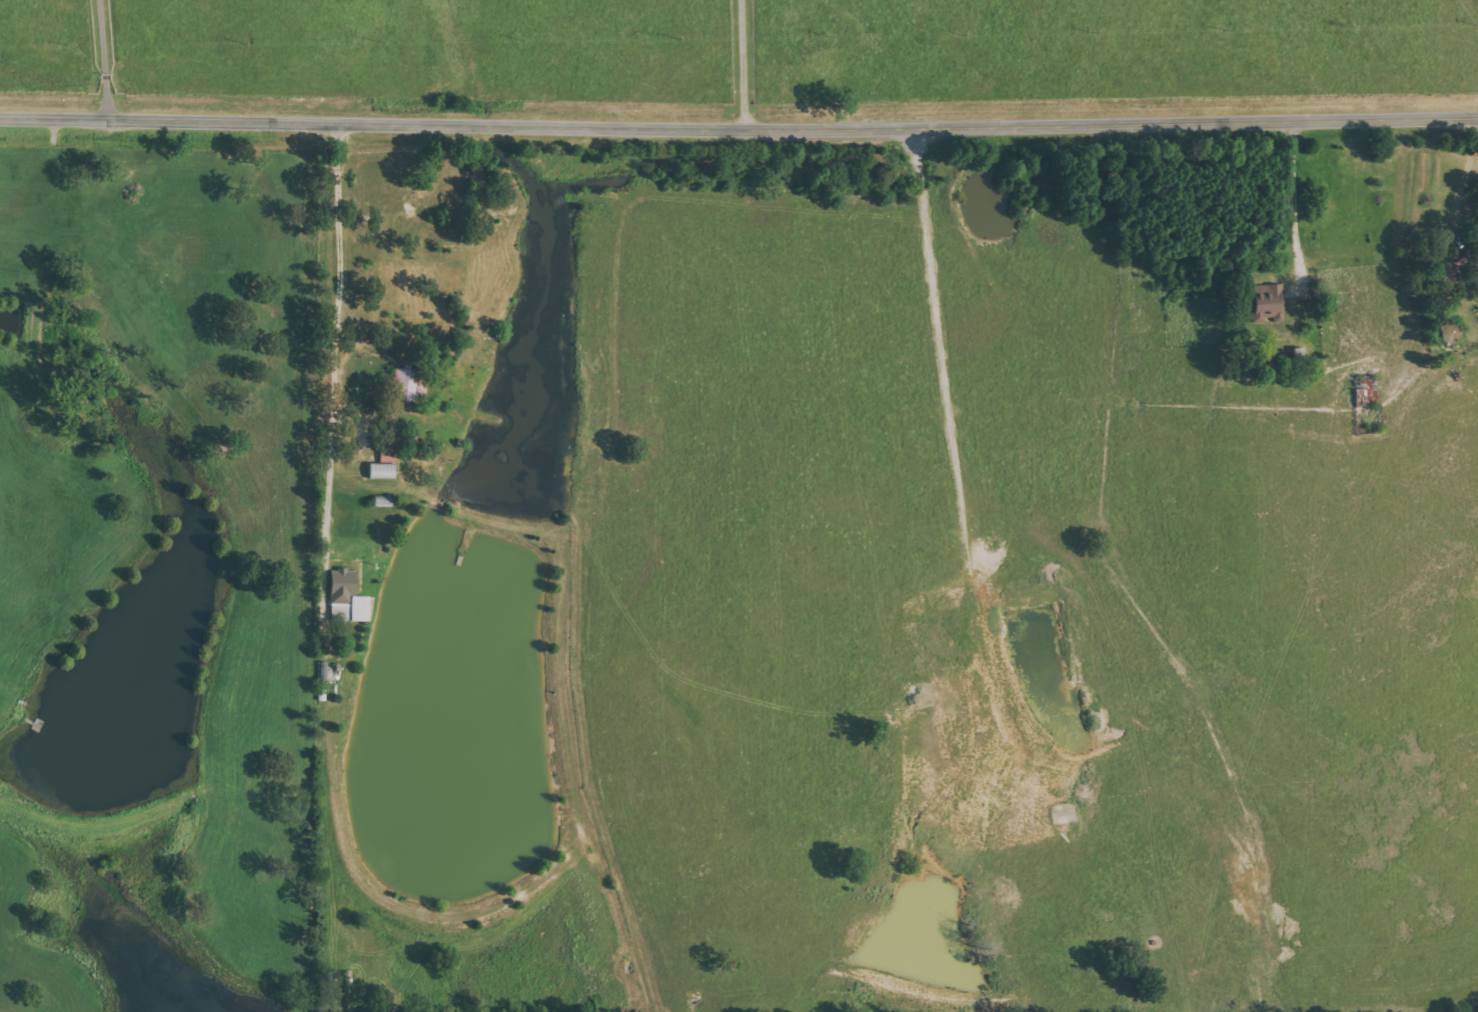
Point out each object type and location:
road: (739, 123)
building: (1267, 300)
building: (413, 384)
building: (386, 470)
building: (350, 598)
building: (324, 671)

